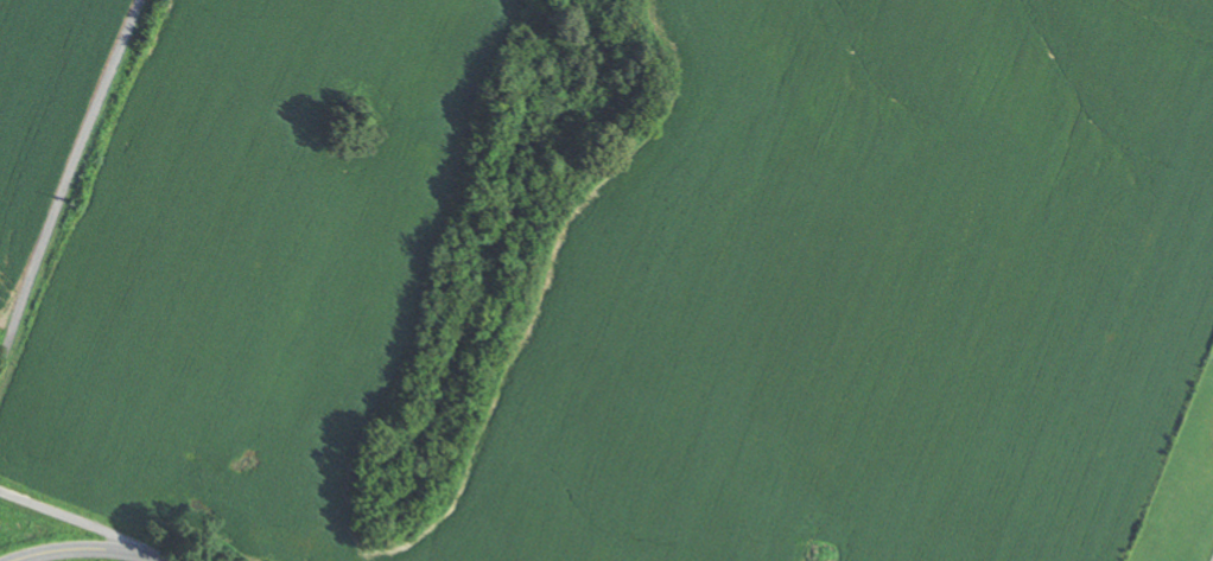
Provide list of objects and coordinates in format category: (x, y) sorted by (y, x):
road: (69, 184)
road: (1194, 512)
road: (76, 518)
road: (88, 548)

